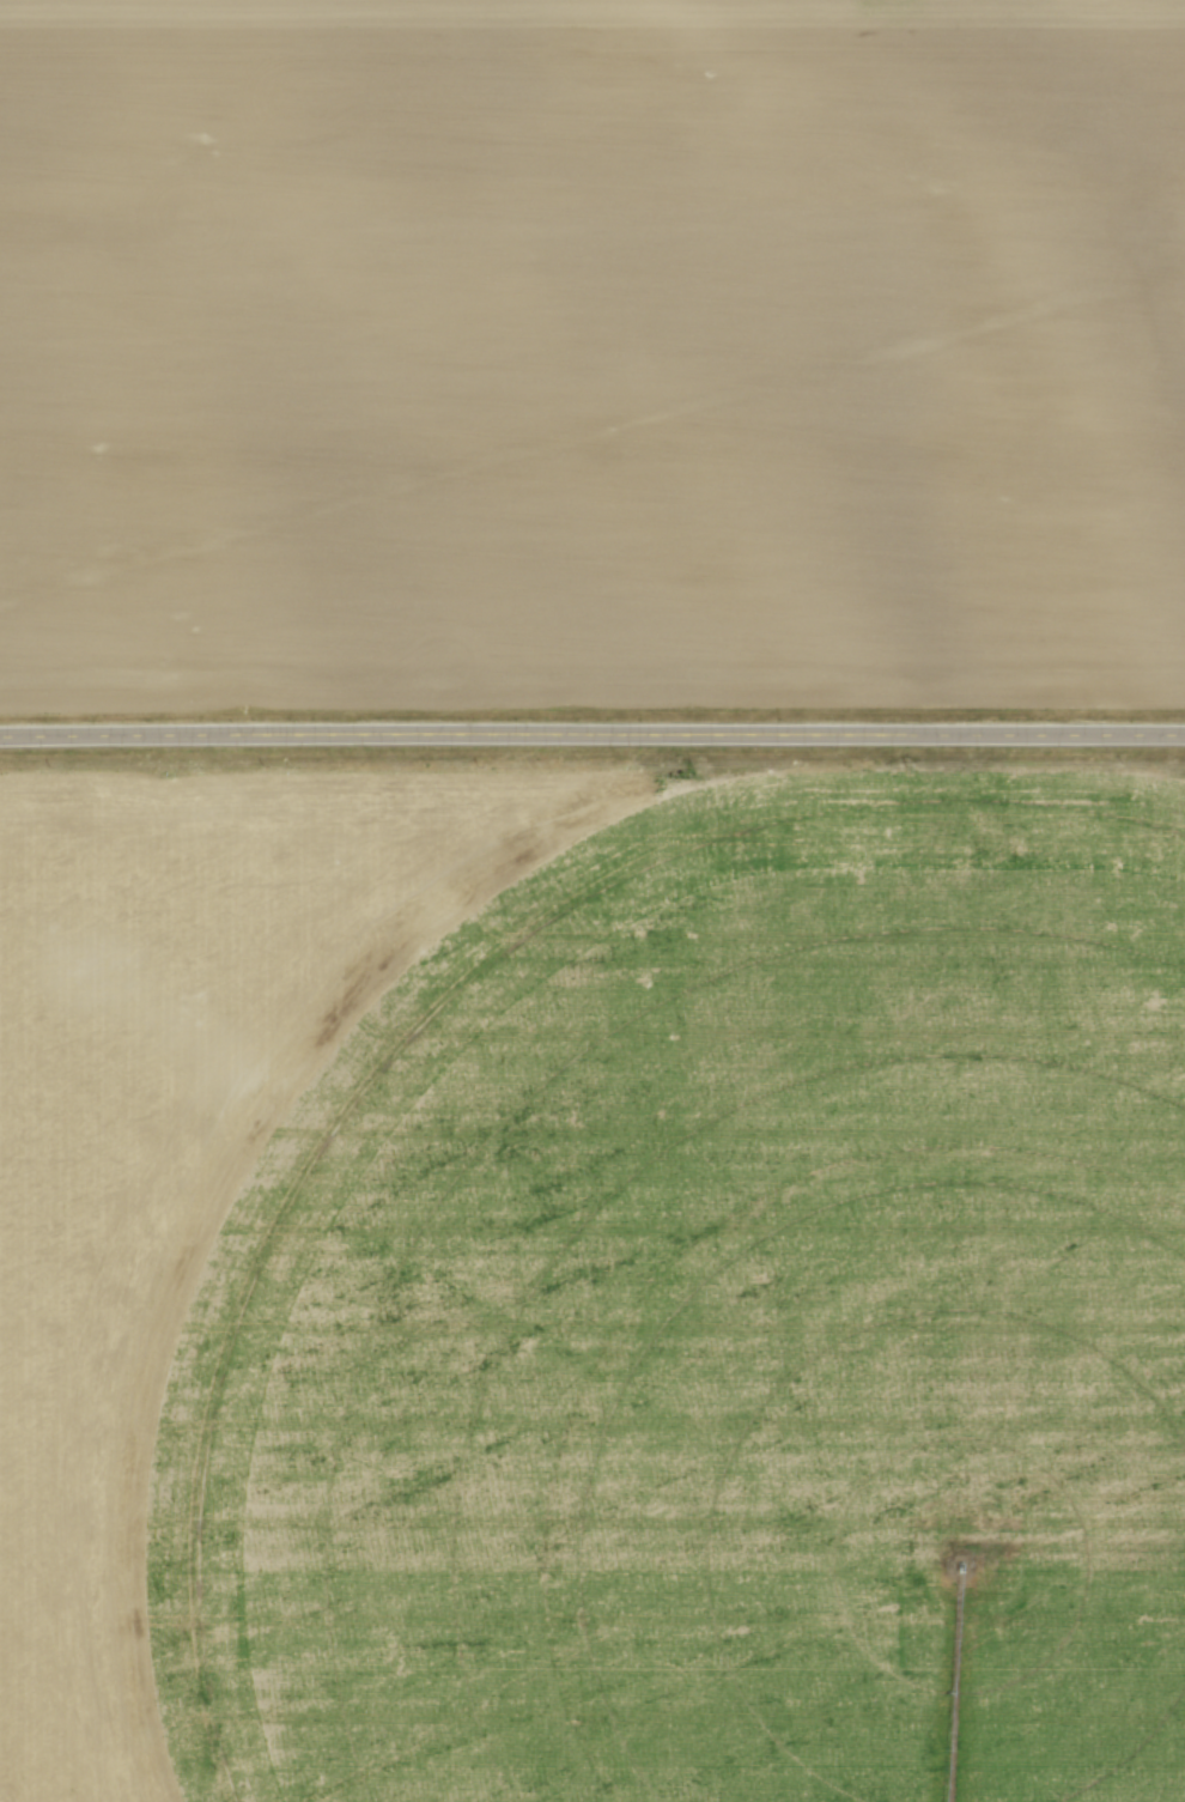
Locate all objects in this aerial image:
crop: (592, 356)
road: (591, 730)
crop: (592, 1285)

